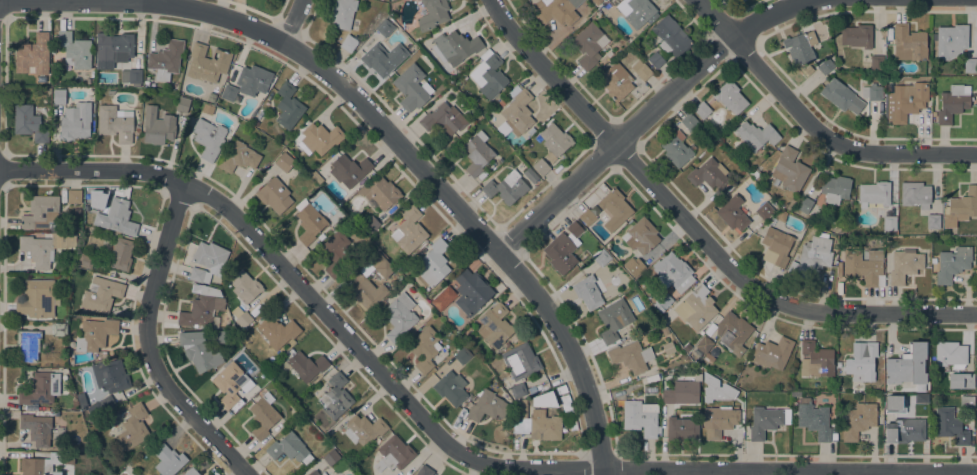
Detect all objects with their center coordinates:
road: (151, 0)
building: (603, 0)
building: (742, 0)
building: (534, 6)
building: (636, 11)
building: (557, 12)
building: (342, 13)
building: (432, 14)
road: (714, 17)
road: (291, 20)
building: (385, 28)
building: (671, 36)
building: (856, 36)
building: (950, 41)
building: (348, 43)
building: (909, 43)
road: (287, 45)
building: (587, 45)
building: (119, 46)
building: (456, 46)
building: (801, 47)
building: (976, 47)
building: (74, 50)
building: (33, 56)
building: (383, 58)
building: (165, 59)
building: (656, 60)
building: (876, 62)
building: (207, 63)
building: (98, 65)
building: (970, 65)
building: (826, 66)
building: (641, 70)
road: (550, 73)
building: (489, 75)
building: (131, 76)
building: (253, 80)
building: (616, 81)
building: (412, 88)
building: (110, 92)
building: (872, 92)
building: (59, 96)
building: (841, 96)
building: (232, 97)
building: (730, 97)
building: (905, 101)
building: (502, 102)
building: (953, 103)
building: (182, 104)
building: (288, 106)
building: (207, 108)
building: (702, 110)
building: (517, 111)
road: (647, 112)
building: (443, 119)
building: (75, 122)
building: (689, 122)
building: (29, 123)
building: (115, 123)
building: (254, 123)
building: (157, 126)
building: (137, 128)
building: (530, 131)
building: (756, 135)
building: (208, 138)
building: (319, 139)
road: (832, 140)
building: (554, 141)
building: (676, 149)
building: (477, 153)
building: (238, 157)
building: (284, 162)
building: (540, 166)
building: (349, 169)
building: (789, 170)
building: (755, 173)
building: (530, 175)
building: (709, 175)
building: (506, 187)
building: (836, 188)
building: (381, 192)
building: (874, 193)
building: (915, 194)
building: (274, 195)
building: (73, 196)
building: (791, 204)
building: (805, 205)
building: (962, 205)
building: (614, 209)
building: (765, 210)
building: (732, 213)
building: (41, 214)
building: (115, 216)
building: (587, 217)
building: (309, 221)
building: (932, 221)
building: (889, 223)
building: (371, 224)
building: (574, 229)
building: (409, 231)
building: (642, 236)
building: (776, 246)
building: (45, 247)
building: (336, 253)
building: (560, 253)
building: (120, 254)
building: (210, 256)
building: (812, 256)
building: (602, 258)
building: (85, 261)
building: (433, 263)
building: (952, 263)
building: (904, 265)
building: (634, 266)
building: (864, 266)
building: (673, 272)
building: (199, 274)
building: (349, 278)
building: (361, 281)
building: (245, 286)
building: (471, 291)
building: (589, 291)
building: (100, 294)
road: (765, 294)
building: (443, 298)
building: (38, 299)
building: (662, 302)
building: (201, 308)
building: (696, 308)
building: (241, 317)
building: (399, 317)
building: (613, 320)
building: (494, 325)
building: (59, 329)
building: (664, 329)
building: (278, 332)
building: (733, 332)
building: (95, 334)
building: (223, 336)
building: (28, 345)
road: (148, 345)
building: (704, 347)
building: (424, 348)
building: (198, 350)
road: (571, 353)
building: (772, 353)
building: (950, 354)
building: (462, 355)
building: (631, 356)
building: (815, 360)
building: (520, 361)
building: (862, 361)
building: (307, 366)
building: (907, 366)
building: (110, 375)
building: (651, 377)
building: (966, 380)
building: (231, 383)
building: (451, 388)
building: (40, 389)
building: (715, 389)
building: (517, 390)
building: (668, 396)
building: (335, 397)
building: (967, 401)
building: (894, 404)
building: (487, 406)
building: (520, 409)
building: (56, 413)
building: (263, 416)
building: (640, 417)
building: (813, 419)
building: (858, 420)
building: (720, 421)
building: (766, 421)
building: (519, 425)
building: (544, 425)
building: (950, 425)
building: (132, 427)
building: (682, 427)
building: (36, 428)
building: (363, 429)
building: (903, 430)
road: (440, 435)
building: (833, 436)
building: (288, 448)
building: (393, 453)
building: (330, 457)
building: (168, 460)
building: (45, 463)
building: (424, 471)
building: (190, 472)
building: (55, 473)
building: (314, 473)
building: (323, 474)

